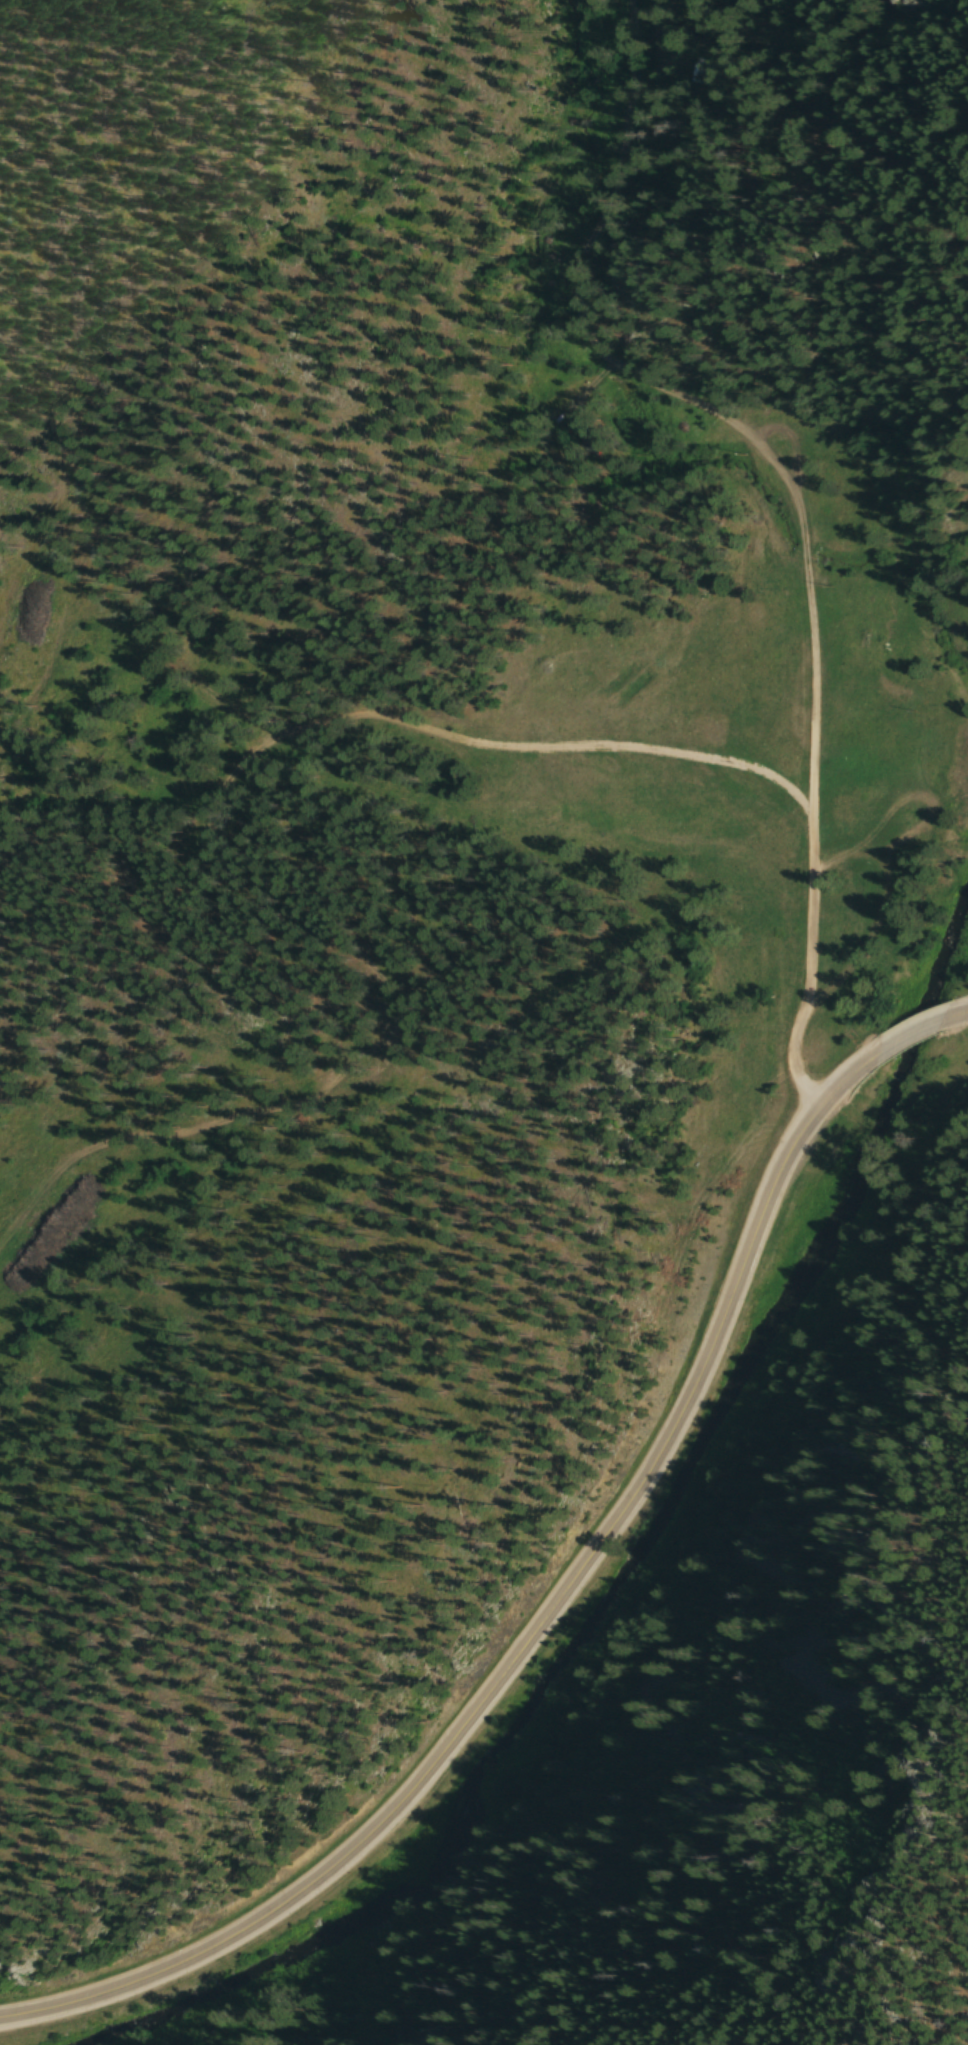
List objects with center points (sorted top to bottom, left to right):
road: (794, 501)
road: (956, 1023)
road: (915, 1038)
road: (536, 1630)

